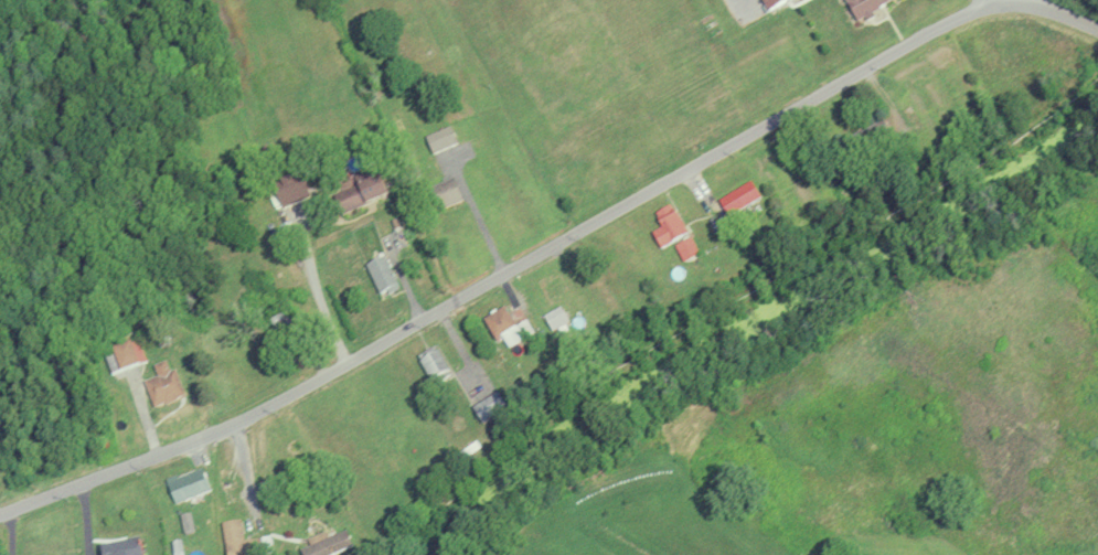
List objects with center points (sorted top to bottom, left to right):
building: (772, 2)
building: (862, 6)
road: (1063, 14)
building: (439, 139)
building: (860, 143)
building: (443, 193)
building: (355, 194)
building: (737, 196)
building: (665, 224)
building: (684, 247)
building: (382, 275)
road: (505, 275)
building: (552, 286)
road: (738, 299)
building: (556, 319)
building: (505, 328)
building: (124, 354)
building: (431, 363)
building: (161, 383)
building: (488, 407)
building: (185, 484)
building: (242, 541)
building: (327, 545)
building: (117, 547)
building: (52, 554)

